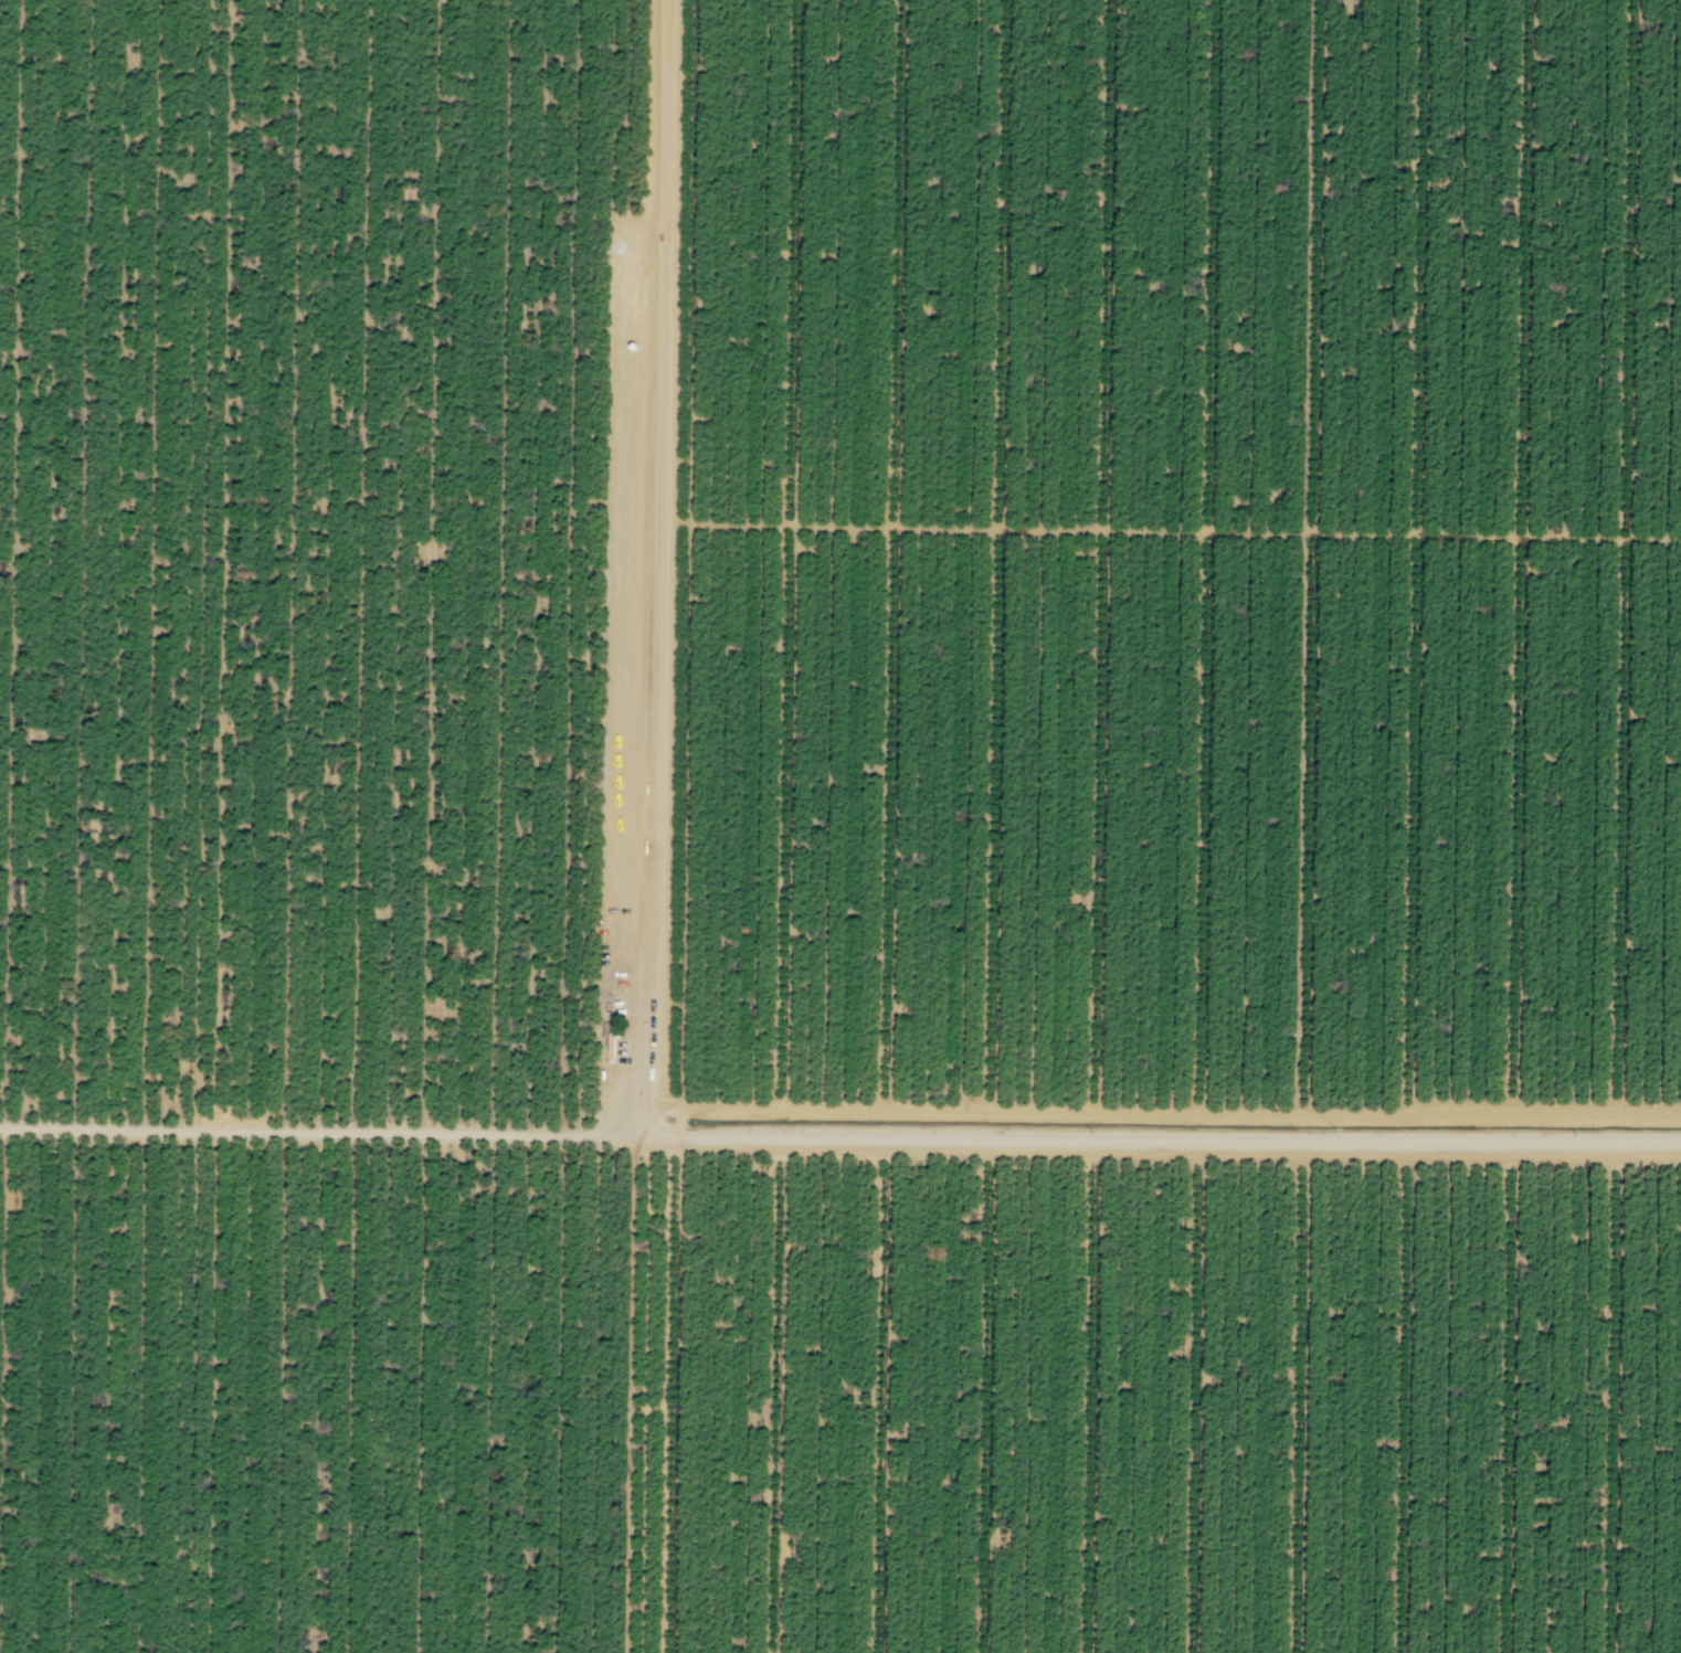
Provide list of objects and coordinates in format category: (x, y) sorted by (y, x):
road: (1169, 531)
road: (794, 554)
road: (891, 554)
road: (1000, 555)
road: (1100, 555)
road: (1204, 555)
road: (1312, 555)
road: (1413, 555)
road: (1521, 557)
road: (1627, 557)
road: (633, 1082)
road: (1157, 1112)
road: (326, 1130)
road: (1091, 1396)
road: (1197, 1396)
road: (1302, 1396)
road: (1408, 1396)
road: (1510, 1396)
road: (781, 1397)
road: (881, 1397)
road: (990, 1397)

